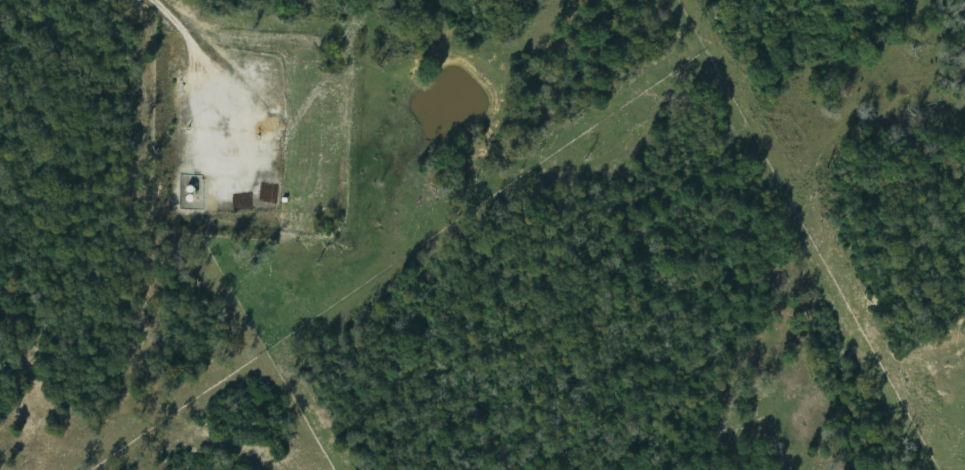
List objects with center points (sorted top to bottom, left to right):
road: (179, 29)
building: (270, 123)
silo: (270, 123)
chimney: (188, 127)
petroleum well: (258, 130)
road: (304, 166)
building: (188, 189)
silo: (188, 189)
building: (188, 198)
silo: (188, 198)

